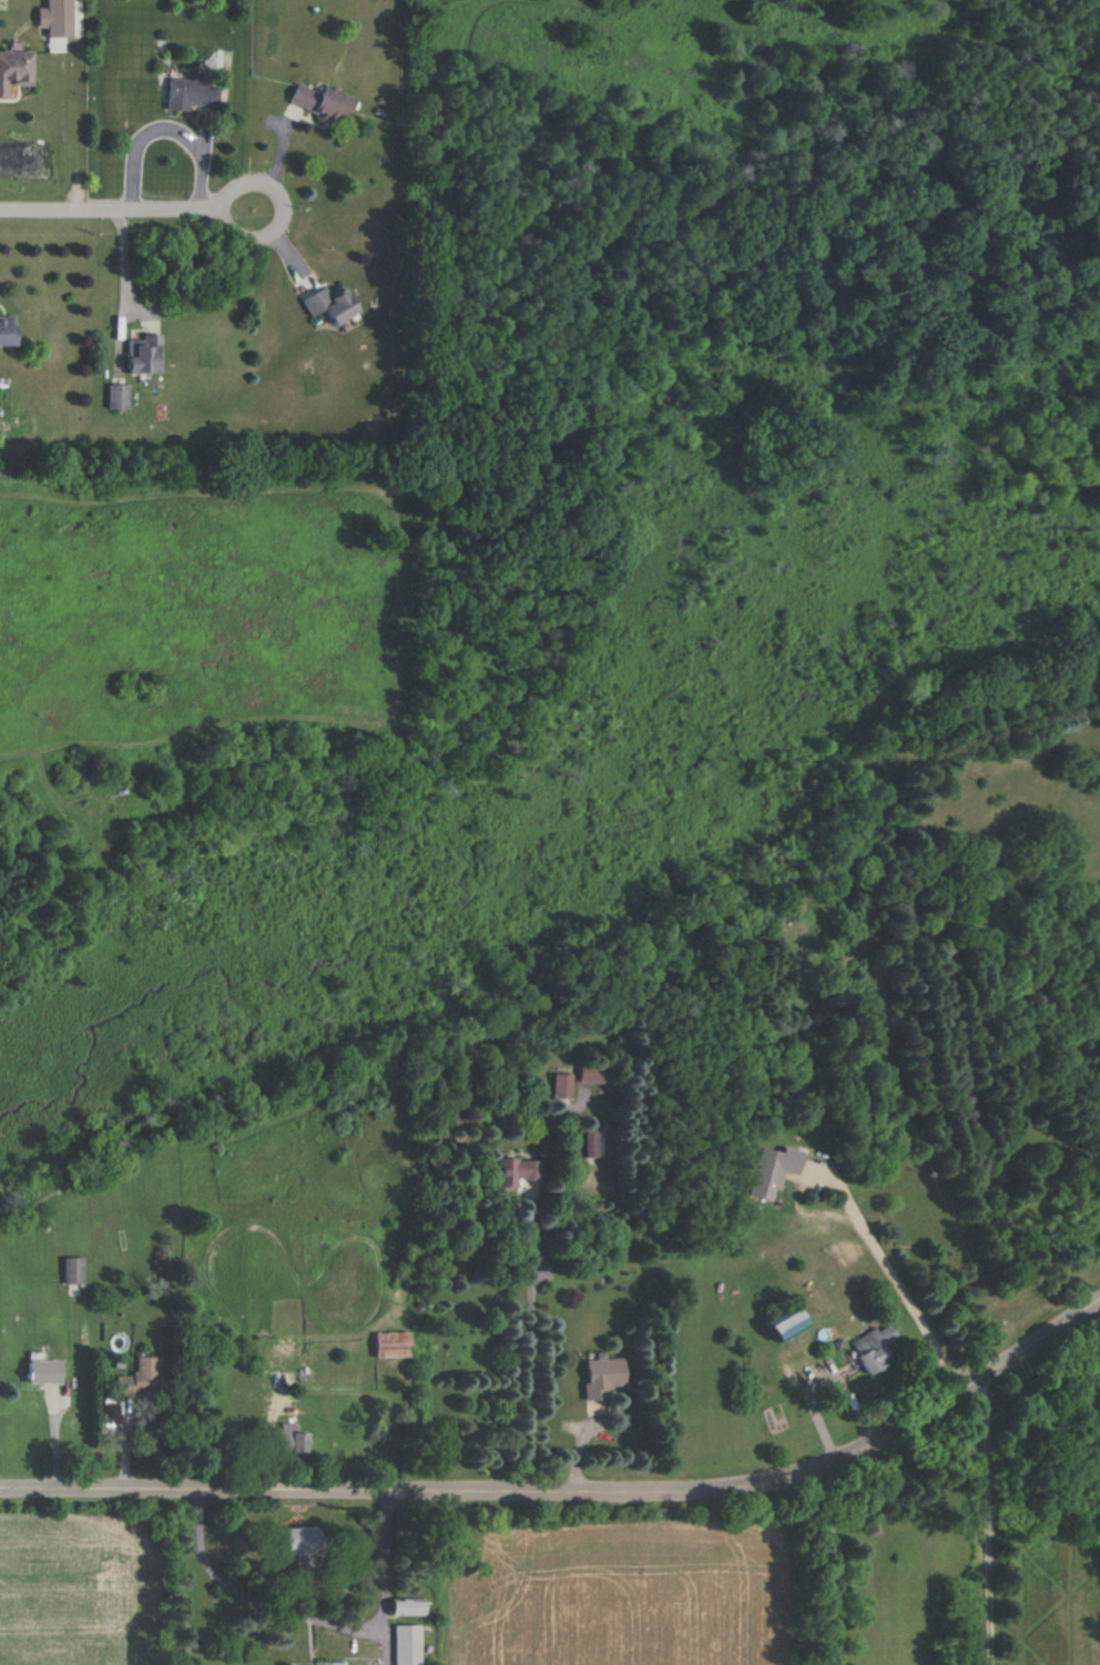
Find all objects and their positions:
building: (54, 18)
building: (14, 69)
building: (189, 93)
building: (319, 101)
road: (170, 124)
road: (123, 210)
road: (113, 290)
building: (328, 304)
building: (143, 354)
building: (116, 396)
building: (591, 1075)
building: (559, 1086)
building: (584, 1143)
building: (770, 1170)
building: (515, 1171)
building: (71, 1270)
road: (893, 1279)
building: (783, 1323)
building: (391, 1344)
building: (870, 1347)
building: (42, 1371)
building: (143, 1377)
building: (600, 1377)
building: (289, 1439)
road: (574, 1493)
road: (987, 1522)
building: (298, 1547)
road: (835, 1567)
building: (405, 1606)
road: (307, 1616)
building: (405, 1645)
building: (335, 1663)

